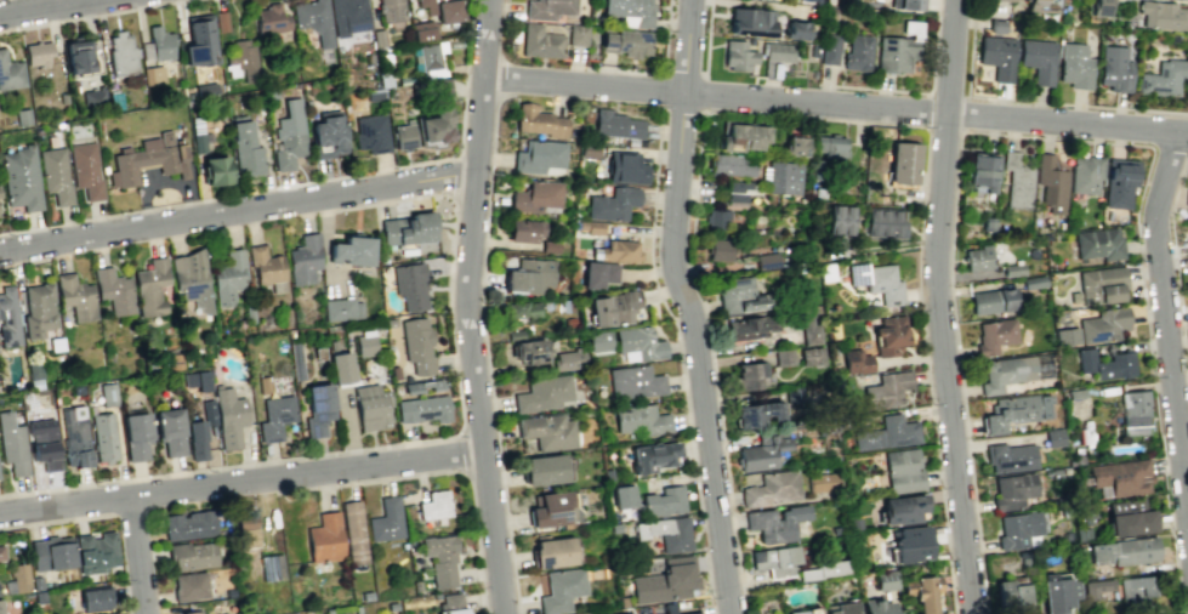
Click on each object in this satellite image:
building: (809, 0)
building: (1010, 0)
building: (828, 1)
building: (905, 4)
building: (1041, 5)
road: (47, 7)
building: (1099, 7)
building: (442, 8)
building: (547, 8)
building: (390, 10)
building: (629, 11)
road: (87, 15)
building: (1161, 15)
building: (348, 16)
building: (271, 19)
building: (313, 19)
building: (220, 21)
building: (750, 21)
building: (996, 25)
building: (911, 28)
building: (795, 29)
building: (421, 30)
building: (576, 34)
building: (377, 38)
road: (705, 38)
building: (199, 40)
building: (159, 42)
building: (540, 42)
building: (626, 42)
building: (829, 47)
building: (813, 49)
building: (777, 51)
building: (857, 52)
building: (36, 53)
building: (120, 53)
building: (892, 53)
building: (737, 55)
building: (427, 56)
building: (996, 56)
building: (80, 57)
building: (1036, 59)
building: (241, 61)
building: (1074, 66)
building: (1114, 68)
building: (10, 72)
building: (432, 73)
road: (661, 73)
building: (152, 74)
road: (682, 74)
building: (1161, 78)
building: (440, 86)
building: (204, 90)
road: (661, 91)
road: (920, 91)
building: (269, 92)
road: (703, 92)
road: (948, 92)
building: (374, 95)
building: (92, 96)
road: (1029, 101)
road: (836, 104)
road: (680, 108)
road: (1186, 113)
building: (22, 116)
road: (802, 116)
road: (461, 119)
building: (538, 120)
building: (615, 124)
building: (434, 125)
road: (943, 129)
building: (370, 133)
building: (289, 135)
building: (403, 135)
building: (326, 137)
building: (743, 137)
road: (1048, 137)
building: (201, 142)
building: (794, 147)
building: (830, 147)
building: (245, 148)
building: (586, 149)
building: (538, 155)
building: (147, 159)
building: (902, 161)
building: (731, 165)
building: (625, 167)
building: (85, 169)
building: (215, 170)
building: (980, 170)
building: (1085, 174)
building: (55, 175)
building: (19, 177)
building: (780, 177)
road: (455, 178)
road: (160, 180)
building: (1014, 181)
building: (1051, 183)
building: (1119, 184)
building: (737, 194)
building: (536, 195)
building: (1186, 195)
building: (612, 204)
road: (238, 211)
building: (716, 218)
building: (839, 218)
building: (883, 221)
building: (987, 223)
building: (590, 226)
building: (407, 229)
building: (522, 229)
building: (1097, 243)
building: (550, 245)
building: (720, 249)
building: (351, 250)
building: (619, 250)
building: (978, 257)
road: (1175, 257)
building: (302, 258)
building: (766, 261)
building: (265, 265)
building: (1012, 269)
building: (825, 271)
building: (597, 274)
building: (529, 275)
building: (227, 277)
building: (191, 279)
building: (876, 280)
building: (1033, 282)
building: (409, 284)
building: (1099, 284)
building: (150, 286)
building: (113, 290)
building: (75, 296)
building: (738, 296)
building: (993, 300)
road: (467, 307)
building: (613, 307)
road: (686, 307)
road: (938, 307)
building: (340, 308)
building: (38, 309)
building: (522, 309)
building: (248, 314)
building: (7, 317)
road: (1166, 318)
building: (388, 322)
building: (569, 322)
building: (751, 325)
building: (1102, 325)
building: (808, 329)
building: (515, 334)
building: (888, 334)
building: (994, 335)
building: (598, 340)
building: (638, 341)
building: (55, 343)
building: (331, 345)
building: (364, 345)
building: (417, 345)
building: (529, 351)
building: (317, 352)
road: (485, 354)
building: (811, 356)
building: (783, 357)
road: (680, 358)
building: (295, 360)
building: (564, 360)
building: (856, 360)
building: (1105, 363)
building: (1041, 365)
building: (340, 366)
building: (394, 371)
building: (1005, 371)
building: (33, 374)
building: (748, 375)
building: (197, 379)
building: (635, 381)
building: (434, 383)
building: (262, 385)
building: (411, 387)
building: (76, 390)
building: (887, 390)
building: (106, 393)
building: (542, 393)
building: (1074, 393)
building: (792, 394)
building: (598, 403)
building: (370, 407)
building: (317, 408)
building: (422, 409)
building: (1016, 410)
building: (208, 411)
building: (756, 413)
building: (1133, 413)
building: (274, 416)
building: (228, 417)
building: (640, 420)
building: (169, 431)
building: (547, 431)
building: (886, 433)
building: (135, 434)
building: (102, 436)
building: (74, 437)
building: (1053, 437)
building: (195, 439)
road: (422, 440)
building: (42, 442)
building: (12, 445)
road: (460, 453)
building: (761, 454)
building: (652, 456)
building: (1010, 456)
building: (542, 468)
road: (440, 470)
building: (902, 470)
building: (607, 474)
building: (1121, 476)
building: (820, 482)
road: (241, 483)
building: (771, 488)
building: (1011, 490)
building: (621, 496)
building: (663, 501)
building: (433, 505)
building: (902, 508)
building: (551, 510)
building: (385, 521)
building: (1130, 522)
building: (774, 523)
building: (853, 523)
building: (188, 525)
building: (614, 527)
building: (1017, 529)
building: (246, 531)
building: (353, 533)
building: (666, 533)
building: (324, 538)
building: (910, 544)
building: (552, 551)
building: (1124, 551)
building: (0, 552)
building: (95, 552)
building: (50, 553)
road: (136, 556)
building: (189, 556)
building: (439, 558)
building: (774, 559)
building: (271, 567)
building: (823, 569)
building: (16, 579)
building: (885, 580)
building: (665, 581)
building: (35, 582)
building: (415, 584)
building: (188, 586)
building: (1135, 586)
building: (1095, 587)
building: (559, 590)
building: (922, 592)
building: (1056, 592)
building: (1012, 595)
building: (38, 596)
building: (365, 596)
building: (92, 598)
building: (450, 604)
building: (391, 606)
building: (875, 606)
building: (840, 607)
building: (356, 609)
building: (0, 610)
building: (326, 610)
building: (803, 610)
building: (189, 612)
building: (110, 613)
building: (627, 613)
building: (694, 613)

